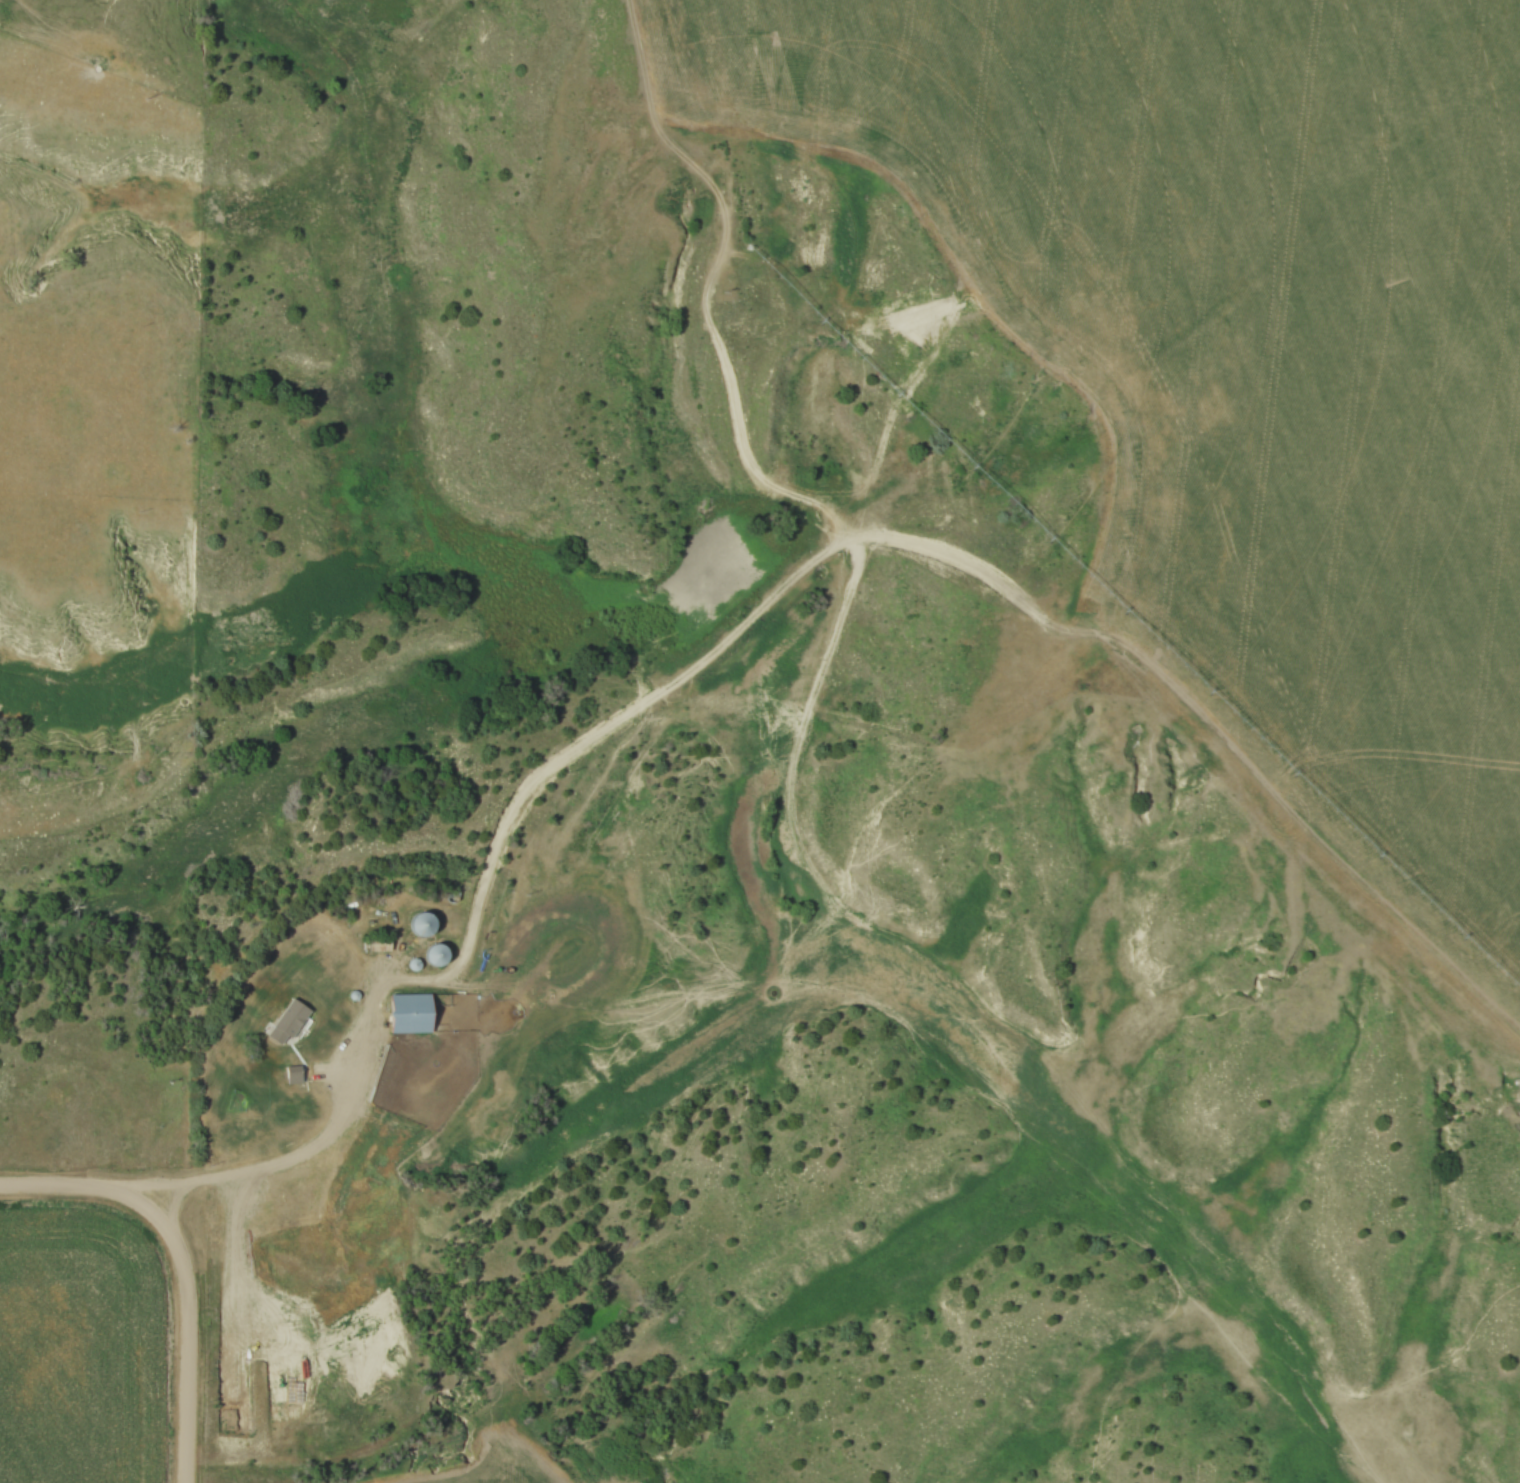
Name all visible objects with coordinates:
crop: (1248, 359)
building: (422, 923)
building: (437, 955)
building: (411, 1013)
building: (292, 1017)
road: (308, 1149)
road: (59, 1183)
road: (187, 1320)

